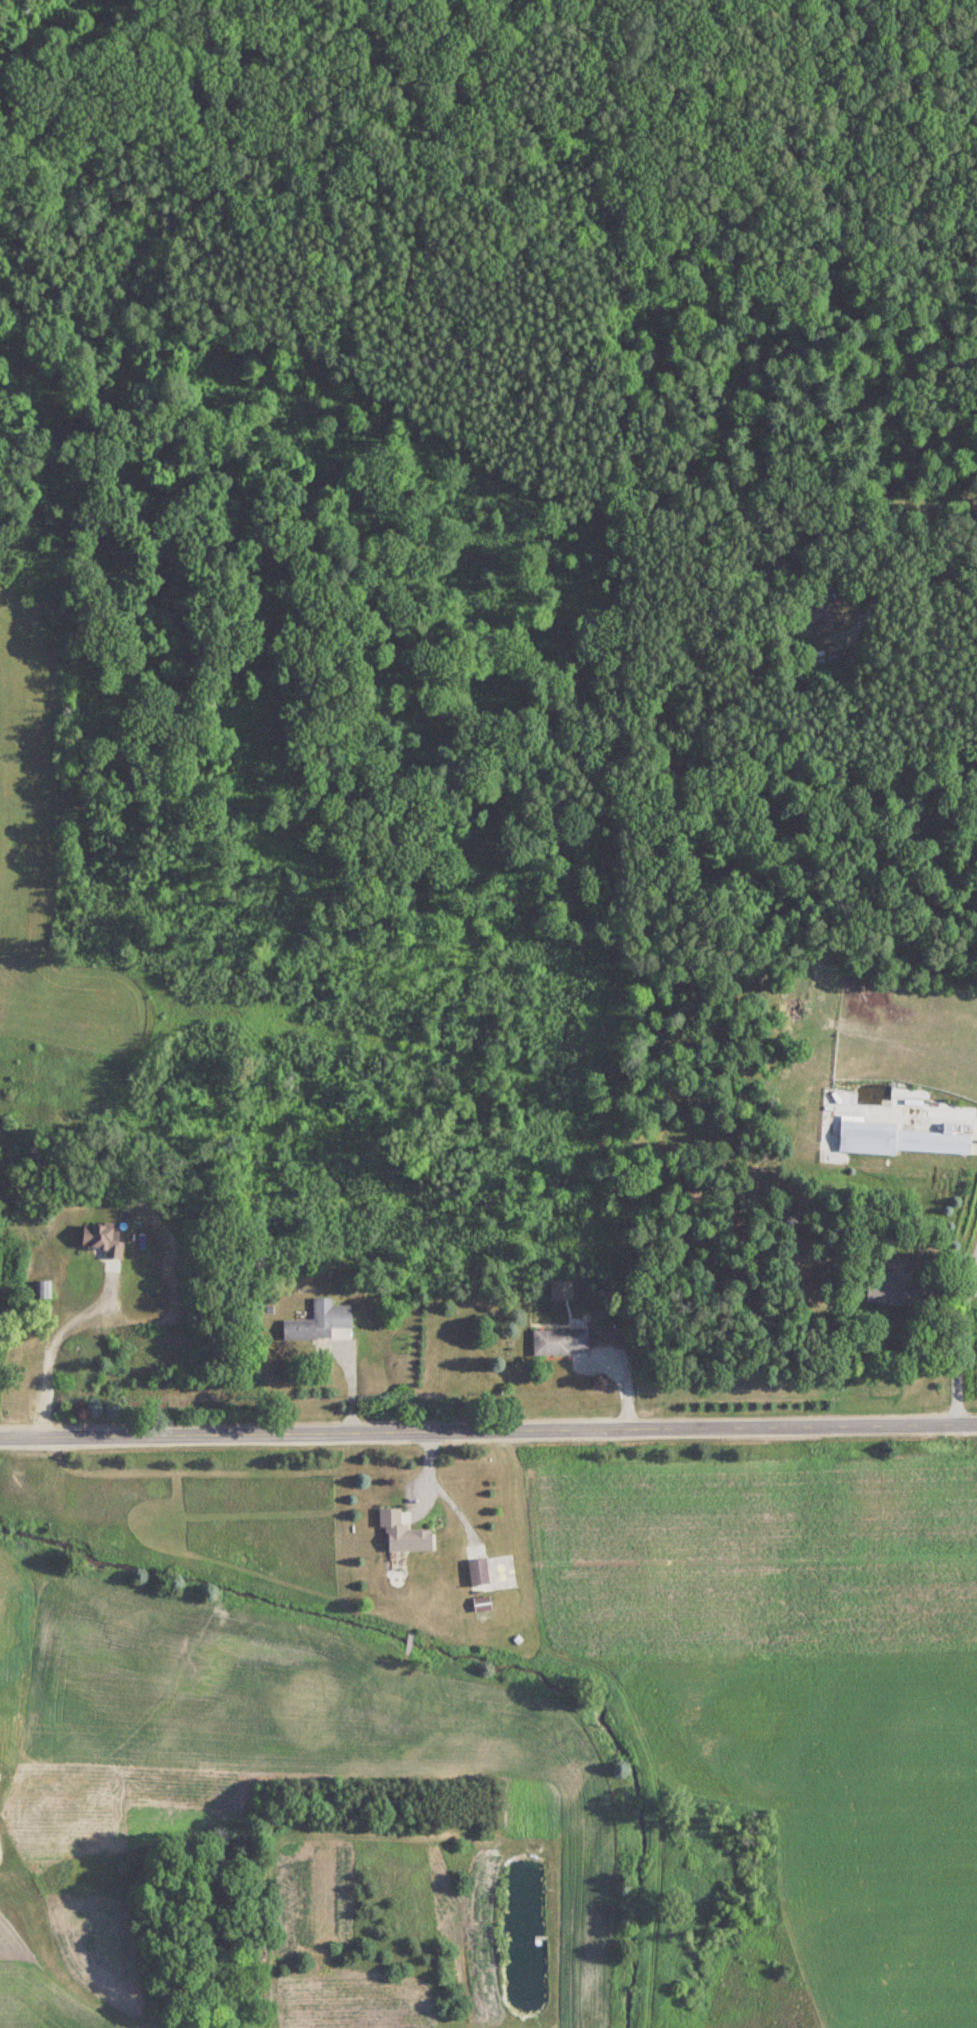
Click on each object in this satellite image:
road: (875, 547)
building: (816, 614)
building: (900, 1140)
building: (104, 1242)
building: (44, 1291)
building: (893, 1291)
building: (320, 1322)
road: (958, 1331)
road: (56, 1338)
building: (561, 1343)
road: (488, 1430)
road: (429, 1468)
road: (456, 1504)
building: (405, 1535)
building: (480, 1573)
building: (480, 1604)

